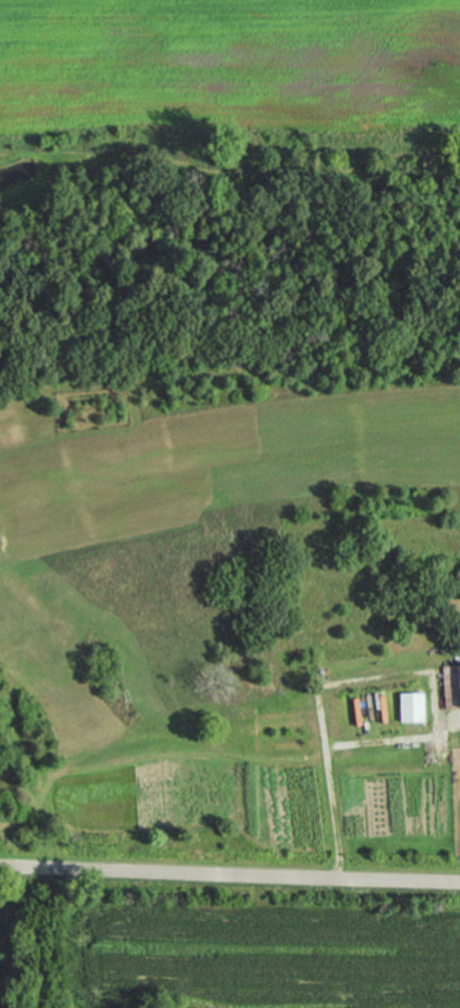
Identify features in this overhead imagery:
building: (451, 684)
building: (411, 706)
road: (229, 873)

